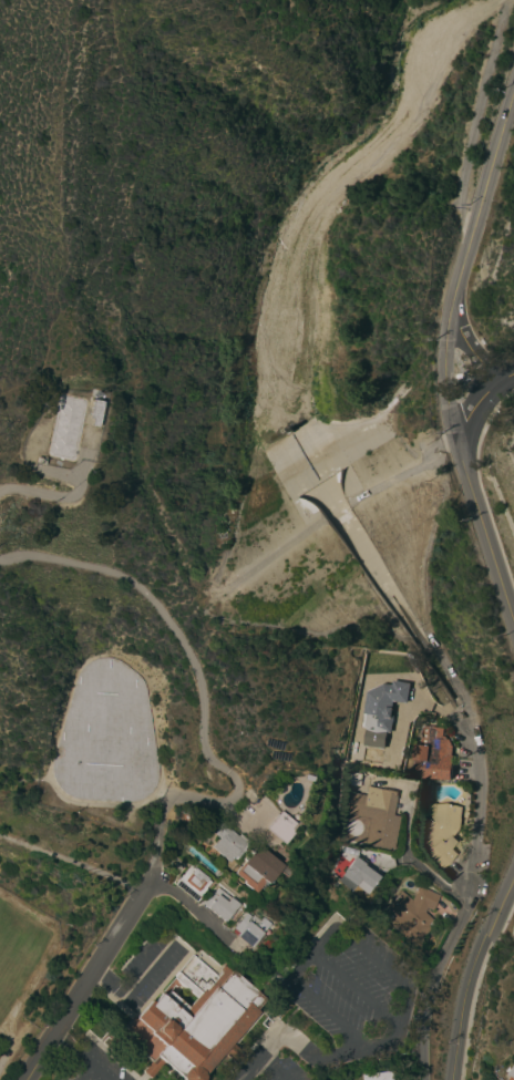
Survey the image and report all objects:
road: (474, 123)
road: (482, 198)
road: (472, 342)
road: (483, 408)
building: (96, 411)
building: (68, 426)
road: (464, 467)
road: (408, 471)
road: (65, 494)
road: (238, 578)
road: (163, 610)
building: (374, 714)
building: (432, 754)
road: (175, 798)
road: (479, 798)
building: (376, 814)
building: (279, 826)
building: (441, 832)
building: (227, 842)
road: (410, 855)
building: (259, 868)
building: (360, 874)
building: (192, 883)
building: (219, 904)
building: (413, 913)
building: (250, 930)
road: (111, 942)
road: (315, 947)
building: (290, 957)
road: (377, 961)
park: (22, 973)
road: (470, 978)
road: (443, 980)
road: (327, 1011)
building: (195, 1026)
road: (81, 1053)
road: (323, 1060)
building: (510, 1074)
building: (377, 1076)

